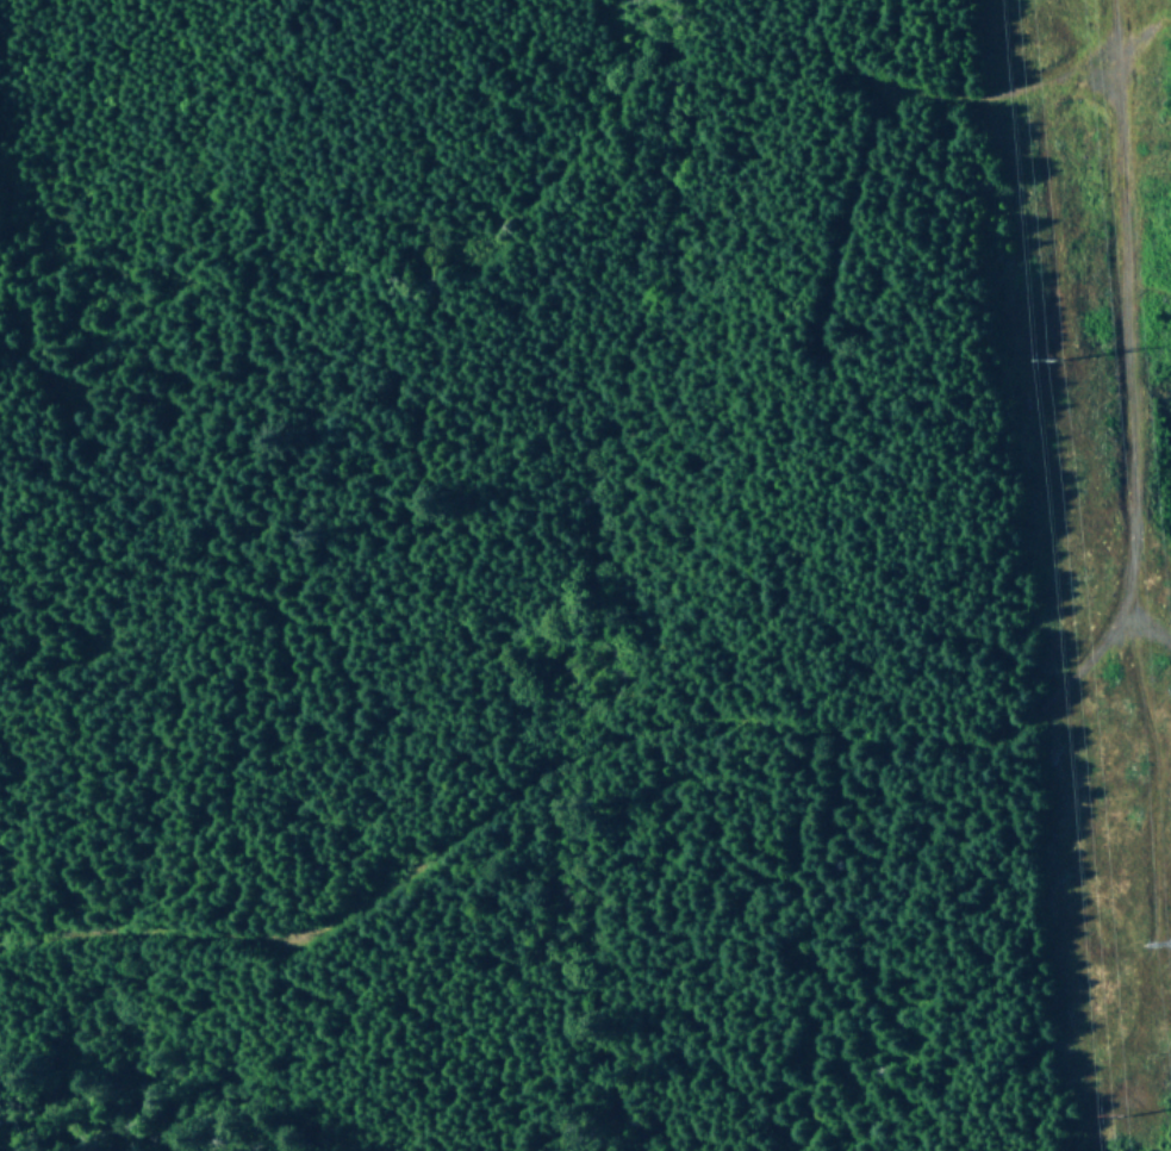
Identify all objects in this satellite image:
power tower: (1039, 360)
power tower: (1105, 1115)

